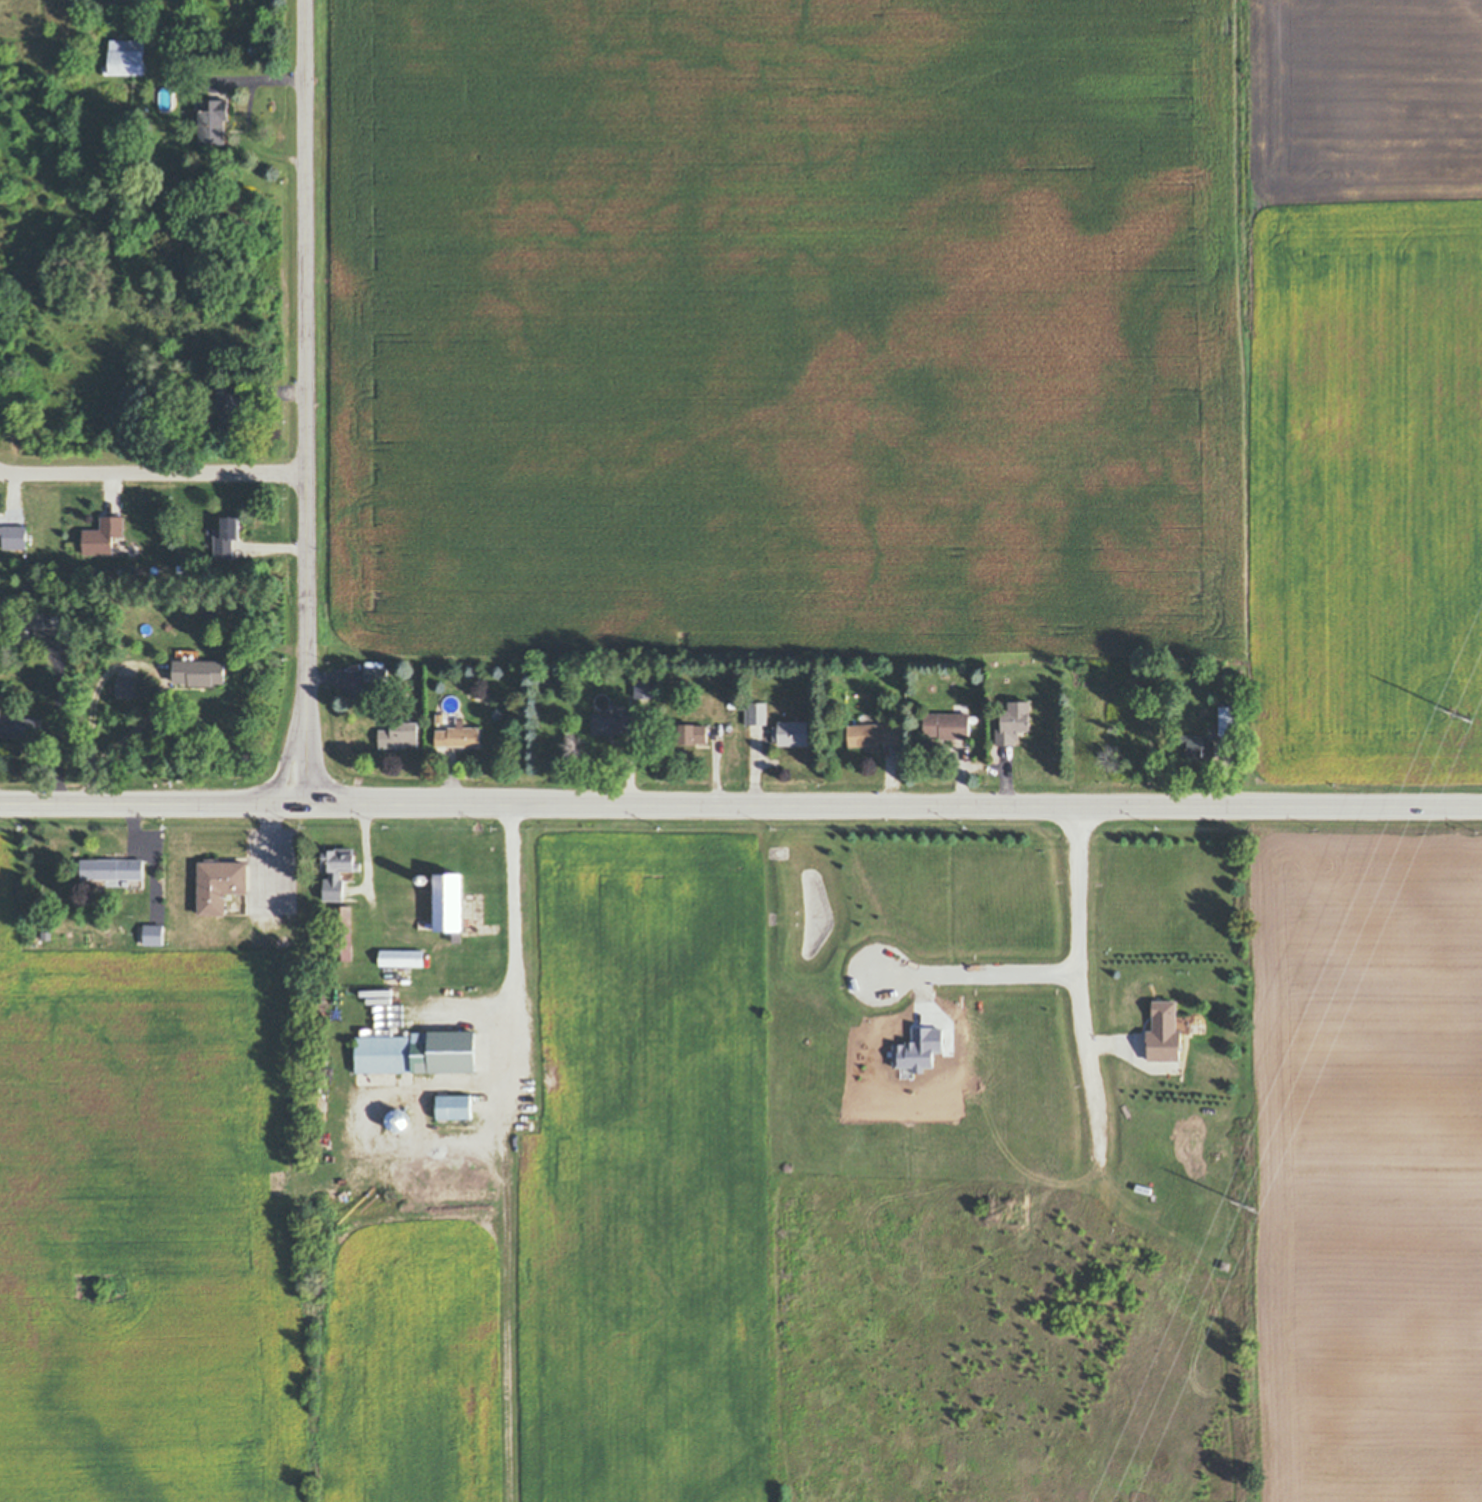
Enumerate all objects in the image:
building: (128, 56)
road: (255, 82)
building: (214, 119)
road: (252, 140)
road: (307, 401)
building: (229, 408)
road: (153, 472)
building: (102, 536)
building: (13, 537)
building: (211, 537)
building: (226, 537)
building: (123, 545)
building: (181, 568)
building: (1, 610)
building: (34, 620)
building: (12, 639)
building: (187, 655)
building: (172, 657)
building: (198, 672)
building: (376, 674)
building: (562, 677)
building: (127, 687)
building: (644, 688)
building: (732, 704)
building: (1005, 705)
power tower: (1463, 708)
building: (961, 710)
building: (757, 712)
building: (974, 718)
building: (1228, 719)
road: (58, 720)
building: (1013, 721)
building: (613, 724)
building: (948, 724)
building: (20, 726)
building: (731, 727)
building: (792, 732)
building: (875, 732)
building: (693, 733)
building: (400, 736)
building: (458, 736)
building: (1198, 745)
building: (870, 747)
building: (456, 748)
road: (153, 804)
road: (781, 806)
road: (1369, 806)
building: (113, 869)
building: (336, 870)
building: (113, 882)
building: (125, 882)
building: (134, 883)
building: (218, 883)
building: (427, 883)
building: (96, 884)
building: (449, 904)
building: (343, 932)
building: (46, 934)
building: (154, 934)
building: (402, 957)
road: (974, 976)
road: (1078, 982)
building: (1184, 1023)
building: (1164, 1032)
building: (1189, 1033)
building: (319, 1051)
building: (417, 1052)
building: (472, 1073)
building: (454, 1074)
building: (460, 1074)
building: (467, 1074)
building: (455, 1106)
road: (500, 1153)
power tower: (1247, 1202)

